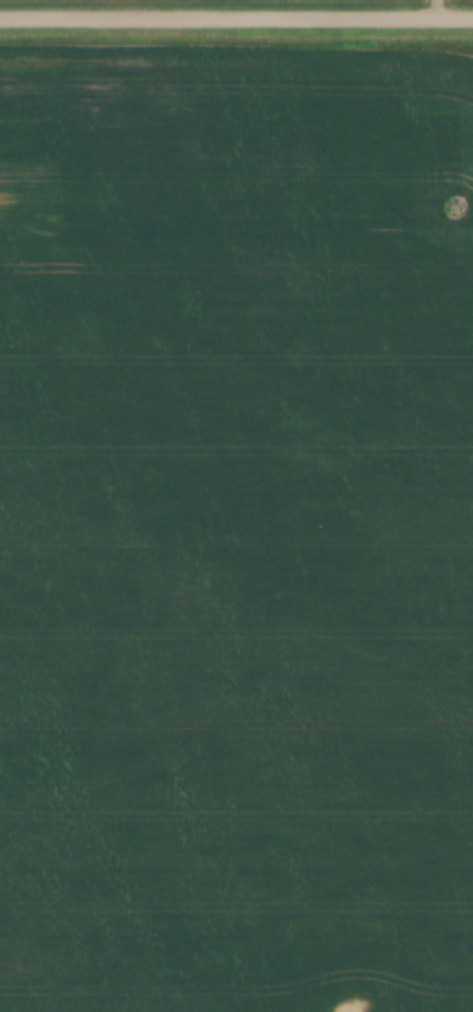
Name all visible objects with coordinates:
road: (436, 8)
road: (236, 17)

